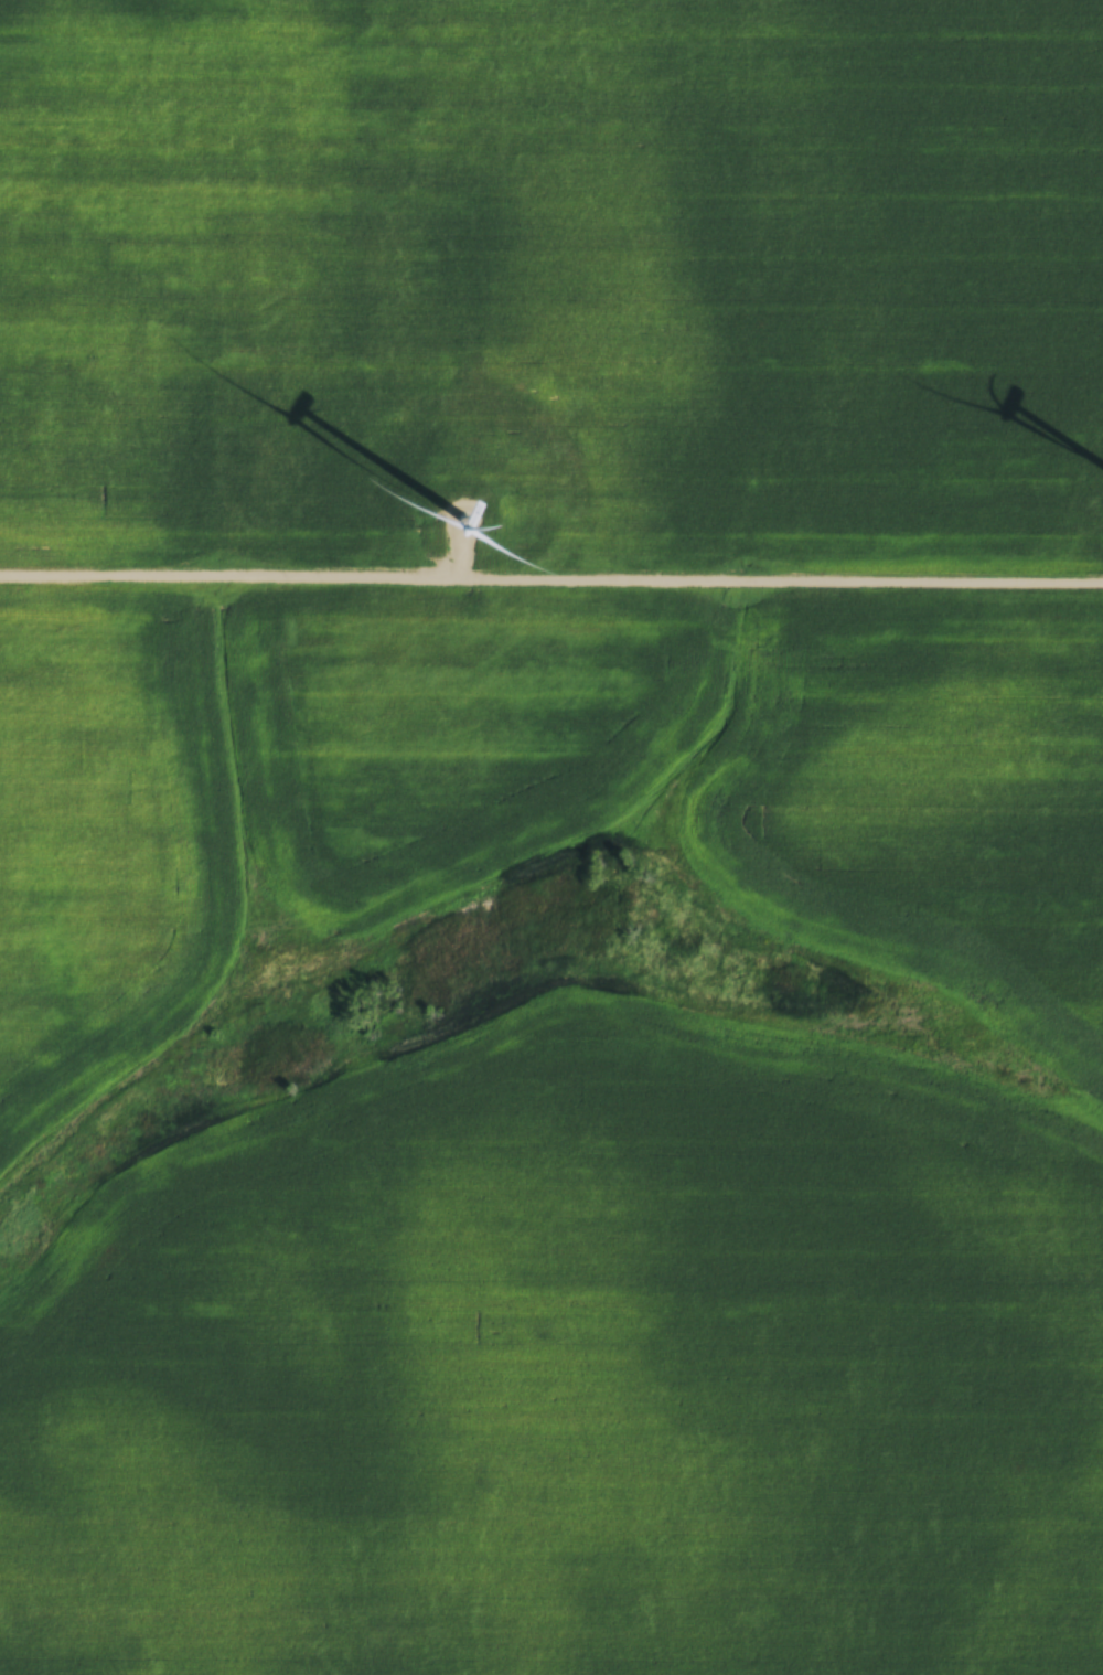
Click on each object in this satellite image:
wind turbine: (461, 516)

